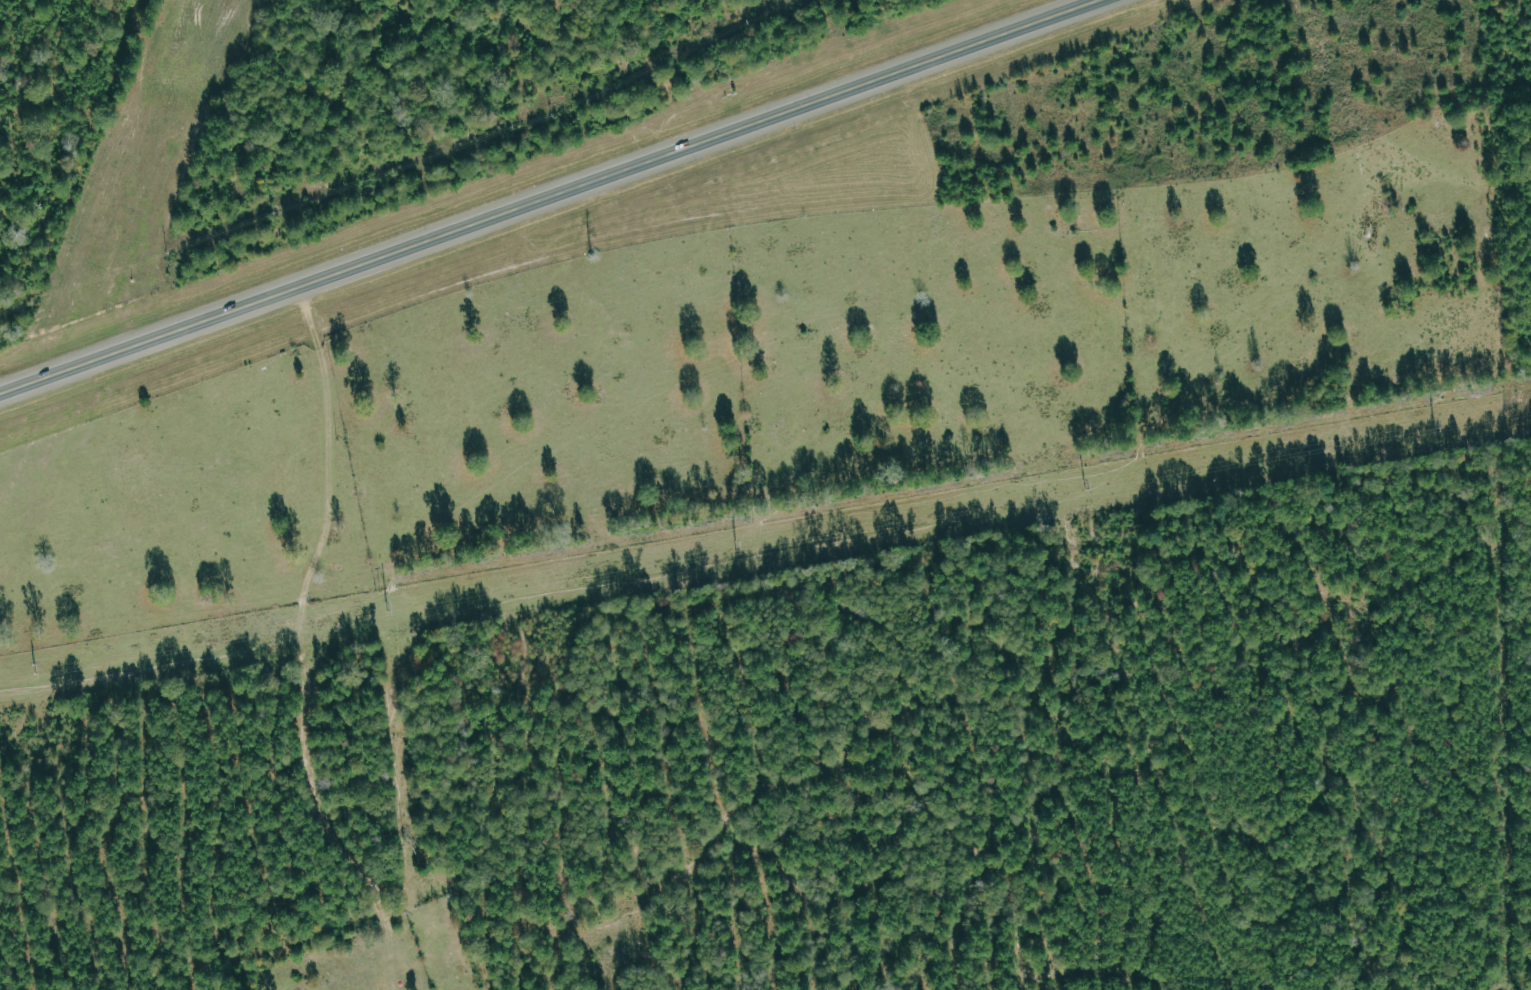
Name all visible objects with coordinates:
road: (549, 196)
power tower: (1436, 424)
power tower: (1088, 485)
power tower: (739, 546)
power tower: (389, 607)
power tower: (36, 671)

